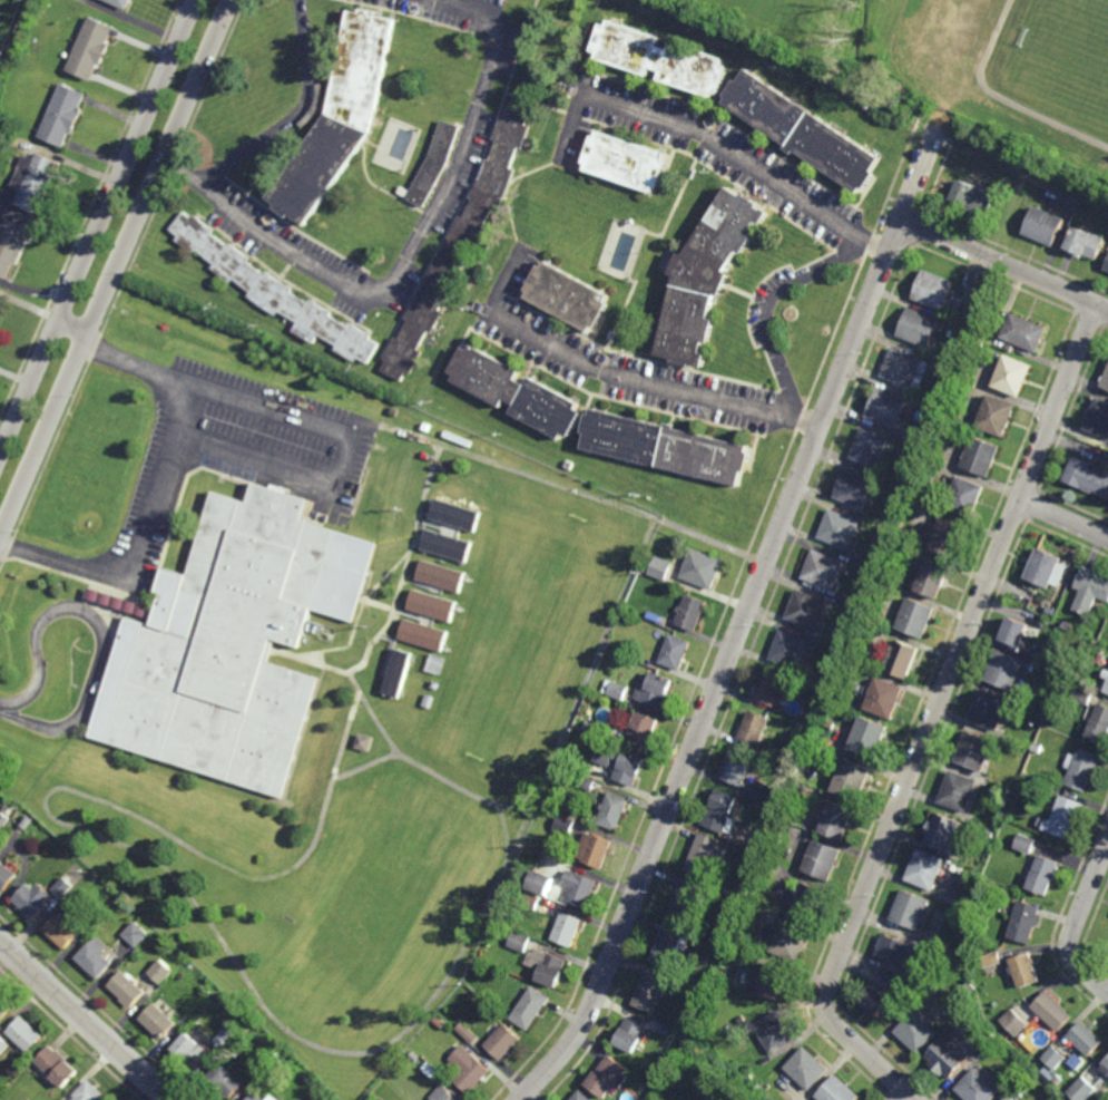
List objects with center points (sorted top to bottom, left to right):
building: (20, 0)
building: (21, 0)
building: (121, 2)
building: (90, 48)
building: (659, 58)
building: (2, 75)
road: (292, 114)
building: (62, 115)
building: (337, 118)
building: (802, 130)
road: (716, 144)
building: (626, 162)
building: (433, 165)
building: (1051, 176)
building: (32, 181)
building: (973, 197)
road: (98, 226)
building: (1045, 226)
building: (10, 244)
building: (459, 244)
building: (1082, 244)
road: (416, 247)
road: (1006, 261)
building: (1106, 266)
road: (116, 270)
building: (705, 278)
building: (933, 290)
building: (273, 292)
building: (567, 298)
road: (766, 304)
building: (964, 322)
building: (921, 327)
building: (1024, 333)
road: (72, 334)
building: (905, 369)
building: (1013, 377)
building: (949, 381)
building: (1105, 382)
road: (654, 383)
building: (945, 389)
building: (514, 393)
building: (886, 408)
building: (996, 417)
building: (1097, 420)
building: (929, 421)
building: (426, 428)
building: (926, 429)
road: (377, 430)
building: (665, 448)
building: (870, 448)
building: (980, 458)
road: (345, 460)
building: (569, 466)
building: (1087, 478)
building: (855, 488)
road: (158, 490)
building: (965, 498)
building: (455, 515)
building: (882, 517)
road: (1063, 519)
building: (839, 528)
building: (949, 537)
building: (447, 545)
building: (859, 564)
building: (899, 564)
building: (660, 566)
building: (700, 566)
building: (1045, 566)
building: (823, 568)
building: (933, 576)
building: (441, 577)
building: (1089, 587)
building: (846, 596)
road: (618, 604)
building: (842, 605)
building: (432, 606)
building: (806, 607)
building: (690, 611)
building: (915, 615)
road: (744, 623)
building: (1014, 627)
road: (100, 629)
building: (423, 636)
building: (832, 639)
building: (231, 641)
building: (790, 649)
building: (674, 650)
building: (902, 656)
building: (1101, 659)
building: (1004, 668)
building: (398, 673)
building: (814, 678)
building: (796, 681)
building: (1106, 683)
building: (616, 688)
building: (771, 688)
building: (655, 689)
building: (1081, 694)
building: (884, 697)
building: (854, 703)
building: (990, 709)
road: (937, 716)
building: (1099, 722)
building: (754, 727)
building: (643, 728)
building: (596, 729)
building: (869, 736)
building: (363, 741)
building: (1014, 747)
building: (1037, 748)
building: (783, 749)
building: (974, 750)
road: (394, 753)
building: (619, 761)
building: (1081, 768)
building: (734, 776)
building: (852, 778)
road: (447, 780)
building: (587, 782)
building: (1057, 789)
building: (959, 790)
road: (517, 804)
road: (47, 805)
building: (612, 810)
building: (720, 811)
building: (1061, 817)
building: (837, 819)
building: (3, 820)
building: (26, 822)
building: (565, 825)
road: (522, 828)
building: (945, 833)
building: (781, 839)
building: (763, 840)
building: (1023, 844)
building: (592, 849)
building: (702, 855)
building: (756, 859)
building: (821, 859)
building: (788, 861)
building: (925, 868)
building: (959, 868)
building: (1041, 875)
building: (6, 876)
building: (539, 883)
building: (63, 887)
building: (87, 887)
building: (578, 888)
building: (744, 888)
building: (33, 899)
building: (687, 899)
building: (807, 899)
building: (530, 901)
building: (739, 902)
building: (911, 908)
building: (747, 918)
building: (1021, 921)
road: (1077, 925)
building: (566, 929)
building: (61, 931)
building: (137, 934)
building: (742, 935)
building: (790, 940)
building: (518, 941)
building: (667, 945)
building: (899, 950)
building: (96, 957)
building: (991, 960)
building: (192, 965)
building: (965, 965)
building: (546, 966)
building: (724, 971)
building: (1023, 971)
building: (163, 972)
building: (767, 980)
building: (707, 982)
building: (971, 989)
building: (649, 990)
building: (128, 991)
building: (876, 1001)
building: (529, 1007)
building: (4, 1009)
building: (1051, 1011)
road: (87, 1018)
building: (439, 1021)
building: (159, 1022)
building: (959, 1022)
building: (743, 1023)
building: (1012, 1023)
building: (692, 1026)
building: (661, 1030)
building: (467, 1032)
building: (775, 1032)
building: (916, 1032)
building: (26, 1034)
building: (629, 1035)
building: (224, 1039)
building: (1085, 1039)
building: (501, 1041)
building: (3, 1045)
building: (190, 1051)
building: (275, 1053)
building: (413, 1057)
building: (947, 1058)
building: (1052, 1059)
building: (259, 1061)
building: (1105, 1067)
building: (56, 1068)
building: (467, 1068)
building: (806, 1068)
building: (430, 1070)
building: (606, 1077)
building: (226, 1080)
building: (977, 1087)
building: (837, 1091)
building: (1081, 1091)
building: (90, 1092)
building: (441, 1094)
building: (580, 1096)
building: (255, 1097)
building: (271, 1098)
road: (906, 1098)
building: (1008, 1098)

